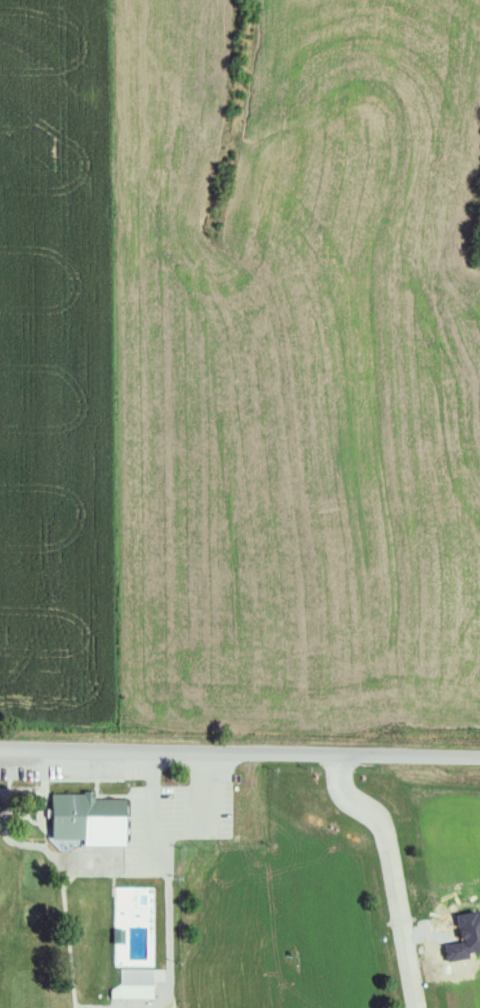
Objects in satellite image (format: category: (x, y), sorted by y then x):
road: (240, 735)
building: (93, 820)
road: (385, 863)
park: (101, 872)
building: (137, 984)

